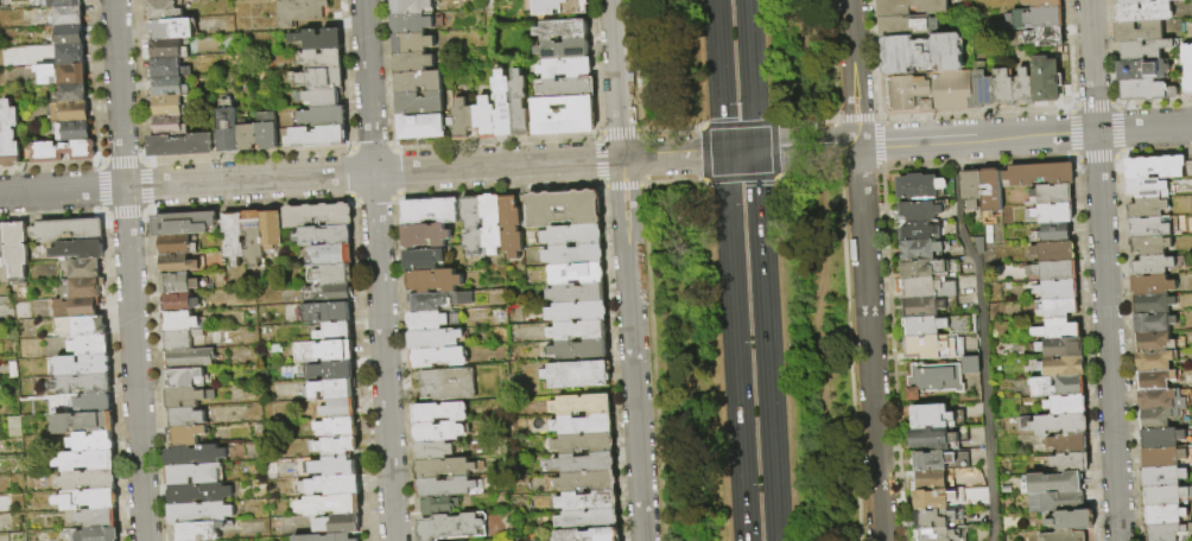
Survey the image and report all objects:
building: (165, 0)
building: (243, 0)
building: (1165, 0)
building: (1131, 1)
building: (63, 4)
building: (1042, 4)
building: (411, 7)
building: (558, 7)
building: (911, 7)
road: (747, 8)
road: (716, 9)
building: (164, 11)
building: (302, 12)
building: (1143, 12)
building: (69, 17)
building: (1033, 18)
building: (412, 25)
building: (907, 25)
building: (173, 30)
building: (564, 31)
building: (1137, 31)
building: (71, 36)
building: (1045, 37)
building: (318, 39)
building: (413, 44)
building: (1143, 49)
building: (169, 50)
building: (565, 50)
building: (922, 53)
building: (74, 55)
building: (322, 59)
building: (413, 63)
building: (566, 69)
building: (1141, 69)
building: (1187, 69)
building: (170, 70)
building: (63, 74)
building: (322, 79)
building: (1046, 79)
building: (420, 83)
road: (752, 83)
road: (721, 85)
building: (170, 88)
building: (568, 88)
building: (1003, 88)
building: (1023, 88)
building: (982, 90)
building: (1146, 90)
building: (930, 91)
building: (74, 94)
building: (322, 97)
building: (421, 104)
building: (503, 104)
building: (520, 104)
building: (170, 107)
building: (71, 113)
building: (565, 116)
building: (323, 117)
building: (487, 119)
building: (464, 120)
road: (743, 123)
building: (169, 126)
building: (423, 127)
building: (228, 128)
building: (267, 131)
building: (75, 132)
building: (9, 136)
building: (247, 136)
building: (318, 136)
road: (974, 139)
building: (182, 145)
traffic signals: (755, 151)
building: (64, 152)
road: (740, 152)
traffic signals: (724, 153)
building: (0, 154)
building: (1155, 167)
building: (1188, 168)
road: (362, 173)
building: (1038, 174)
road: (730, 178)
building: (919, 186)
building: (1149, 187)
building: (970, 190)
building: (989, 195)
building: (1050, 195)
building: (1147, 208)
building: (564, 210)
building: (919, 210)
building: (430, 212)
building: (1052, 214)
building: (319, 216)
building: (185, 224)
building: (493, 224)
building: (473, 227)
building: (512, 227)
building: (1153, 227)
building: (273, 230)
building: (919, 230)
building: (69, 231)
building: (1053, 233)
building: (324, 236)
building: (425, 236)
building: (575, 236)
building: (234, 237)
building: (254, 238)
building: (2, 241)
building: (177, 246)
building: (1149, 246)
building: (920, 248)
building: (80, 250)
building: (18, 252)
building: (1053, 252)
building: (334, 255)
building: (575, 255)
building: (424, 260)
building: (178, 265)
building: (1155, 265)
building: (84, 268)
road: (128, 269)
park: (746, 269)
road: (866, 269)
building: (924, 269)
road: (1103, 269)
road: (378, 270)
road: (627, 270)
road: (812, 270)
building: (1053, 270)
building: (335, 274)
building: (577, 275)
building: (435, 281)
building: (1152, 284)
building: (178, 285)
building: (927, 287)
building: (83, 288)
building: (1057, 291)
building: (328, 294)
building: (577, 294)
building: (440, 301)
building: (1152, 303)
building: (180, 304)
building: (922, 306)
building: (78, 308)
building: (1058, 310)
building: (329, 313)
building: (578, 313)
building: (431, 322)
building: (179, 323)
building: (1152, 323)
building: (924, 325)
building: (83, 326)
building: (579, 331)
building: (1057, 331)
building: (336, 332)
road: (981, 338)
building: (184, 340)
building: (436, 340)
building: (1154, 342)
road: (767, 345)
building: (91, 346)
road: (735, 346)
building: (930, 346)
building: (1060, 348)
building: (581, 350)
building: (324, 351)
building: (190, 359)
building: (439, 359)
building: (1155, 361)
building: (84, 365)
building: (971, 365)
building: (1061, 368)
building: (337, 370)
building: (578, 375)
building: (188, 378)
building: (932, 378)
building: (1154, 380)
building: (83, 384)
building: (448, 386)
building: (1070, 387)
building: (334, 389)
building: (189, 397)
building: (1160, 400)
building: (95, 403)
building: (582, 406)
building: (1066, 406)
building: (341, 409)
building: (442, 413)
building: (931, 415)
building: (186, 418)
building: (1158, 418)
building: (84, 422)
building: (583, 425)
building: (1053, 425)
building: (340, 428)
building: (440, 432)
building: (186, 435)
building: (932, 438)
building: (1161, 438)
building: (93, 443)
building: (584, 444)
building: (1066, 444)
building: (337, 447)
building: (436, 451)
building: (195, 456)
building: (1162, 457)
building: (932, 460)
building: (88, 462)
building: (1069, 463)
building: (585, 464)
building: (338, 467)
building: (446, 469)
building: (195, 475)
building: (1162, 476)
building: (932, 479)
building: (89, 482)
building: (587, 483)
building: (1051, 483)
building: (342, 485)
building: (450, 488)
building: (199, 494)
building: (1165, 495)
building: (933, 498)
building: (88, 501)
building: (588, 502)
building: (1055, 502)
building: (331, 505)
building: (438, 507)
building: (201, 513)
building: (1164, 515)
building: (933, 517)
building: (97, 520)
building: (588, 521)
building: (1072, 521)
building: (338, 524)
building: (455, 527)
building: (199, 532)
building: (1168, 533)
building: (99, 534)
building: (937, 534)
building: (590, 535)
building: (1061, 536)
building: (326, 537)

